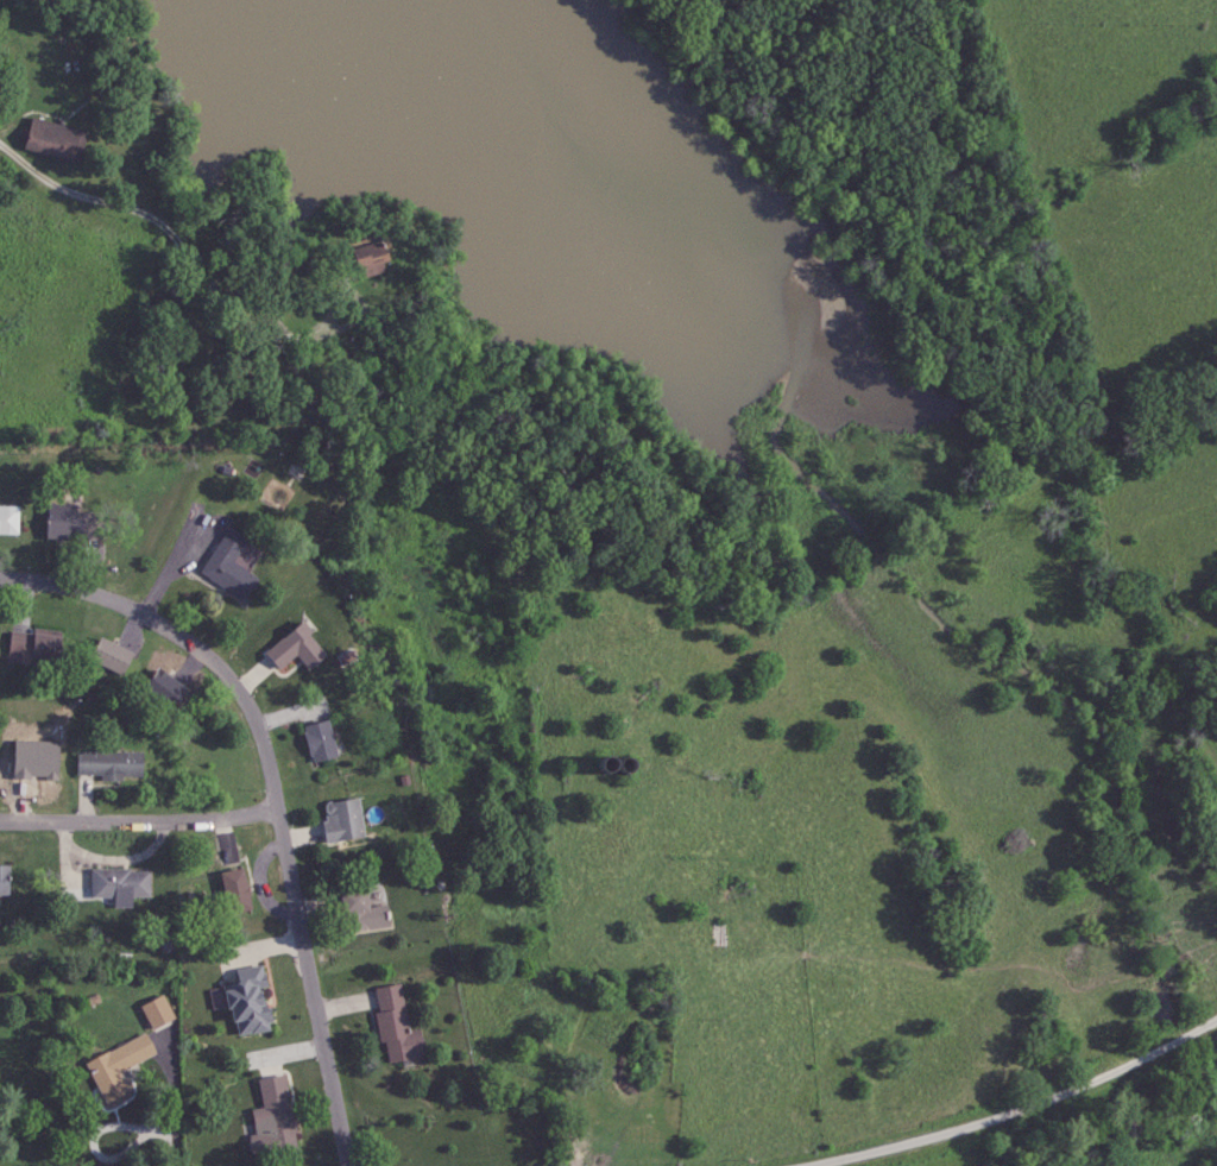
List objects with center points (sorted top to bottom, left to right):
building: (55, 139)
road: (176, 239)
building: (371, 256)
building: (8, 519)
building: (228, 565)
building: (34, 644)
building: (295, 648)
building: (109, 656)
building: (164, 688)
building: (319, 742)
building: (111, 764)
road: (276, 792)
building: (342, 820)
road: (140, 822)
road: (112, 861)
building: (4, 881)
building: (120, 884)
building: (235, 890)
building: (361, 910)
building: (247, 1001)
building: (157, 1011)
building: (396, 1025)
building: (118, 1066)
road: (1027, 1109)
building: (273, 1121)
road: (177, 1145)

